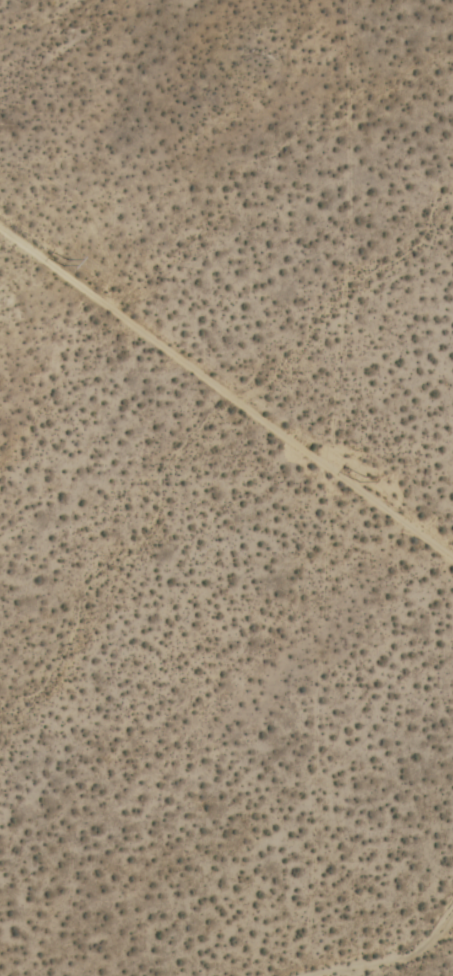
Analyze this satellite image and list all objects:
power tower: (62, 262)
road: (226, 394)
power tower: (365, 481)

